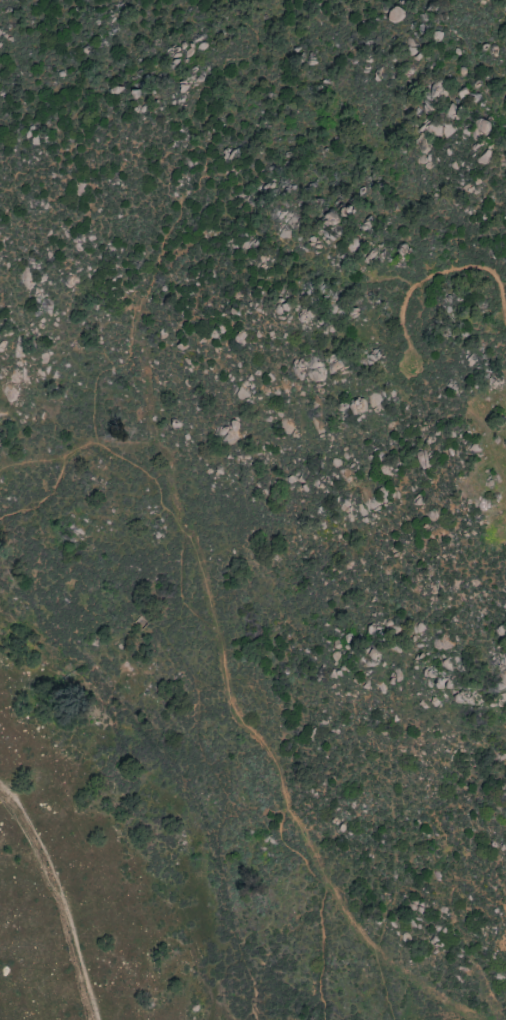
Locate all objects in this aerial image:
road: (54, 904)

